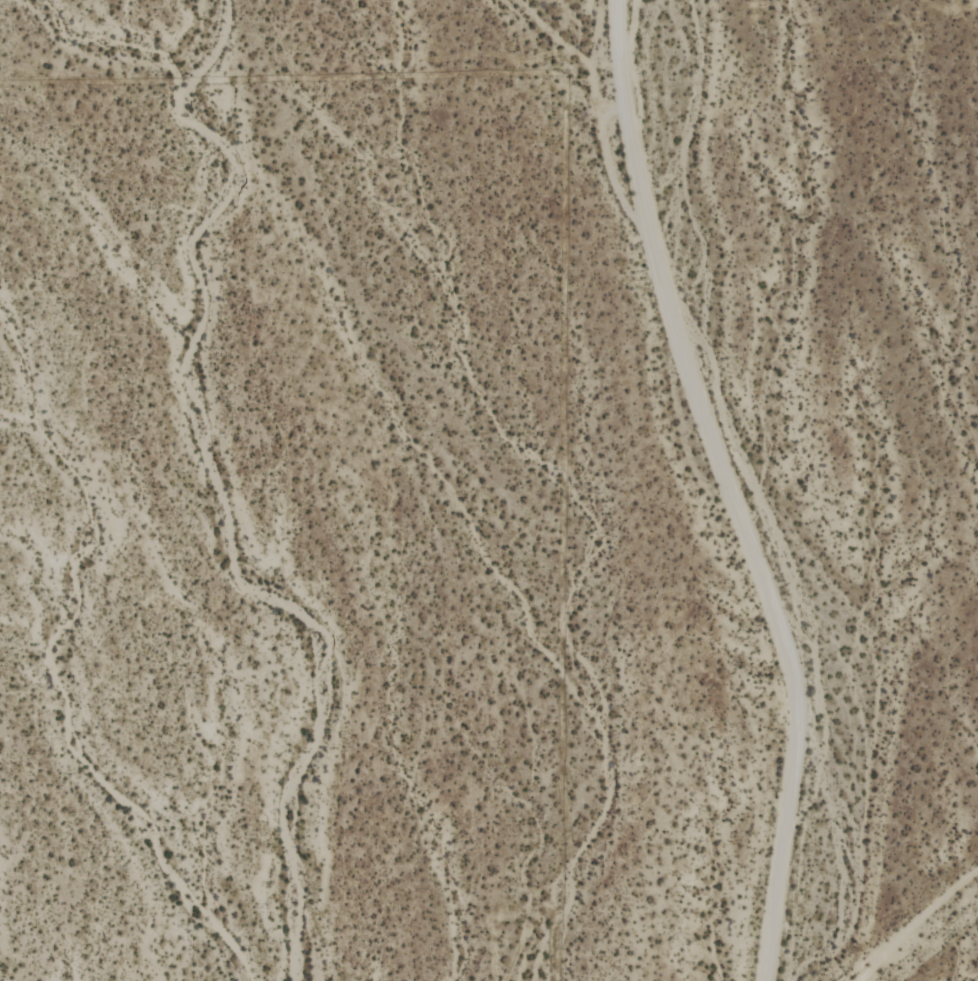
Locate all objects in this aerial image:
road: (728, 489)

